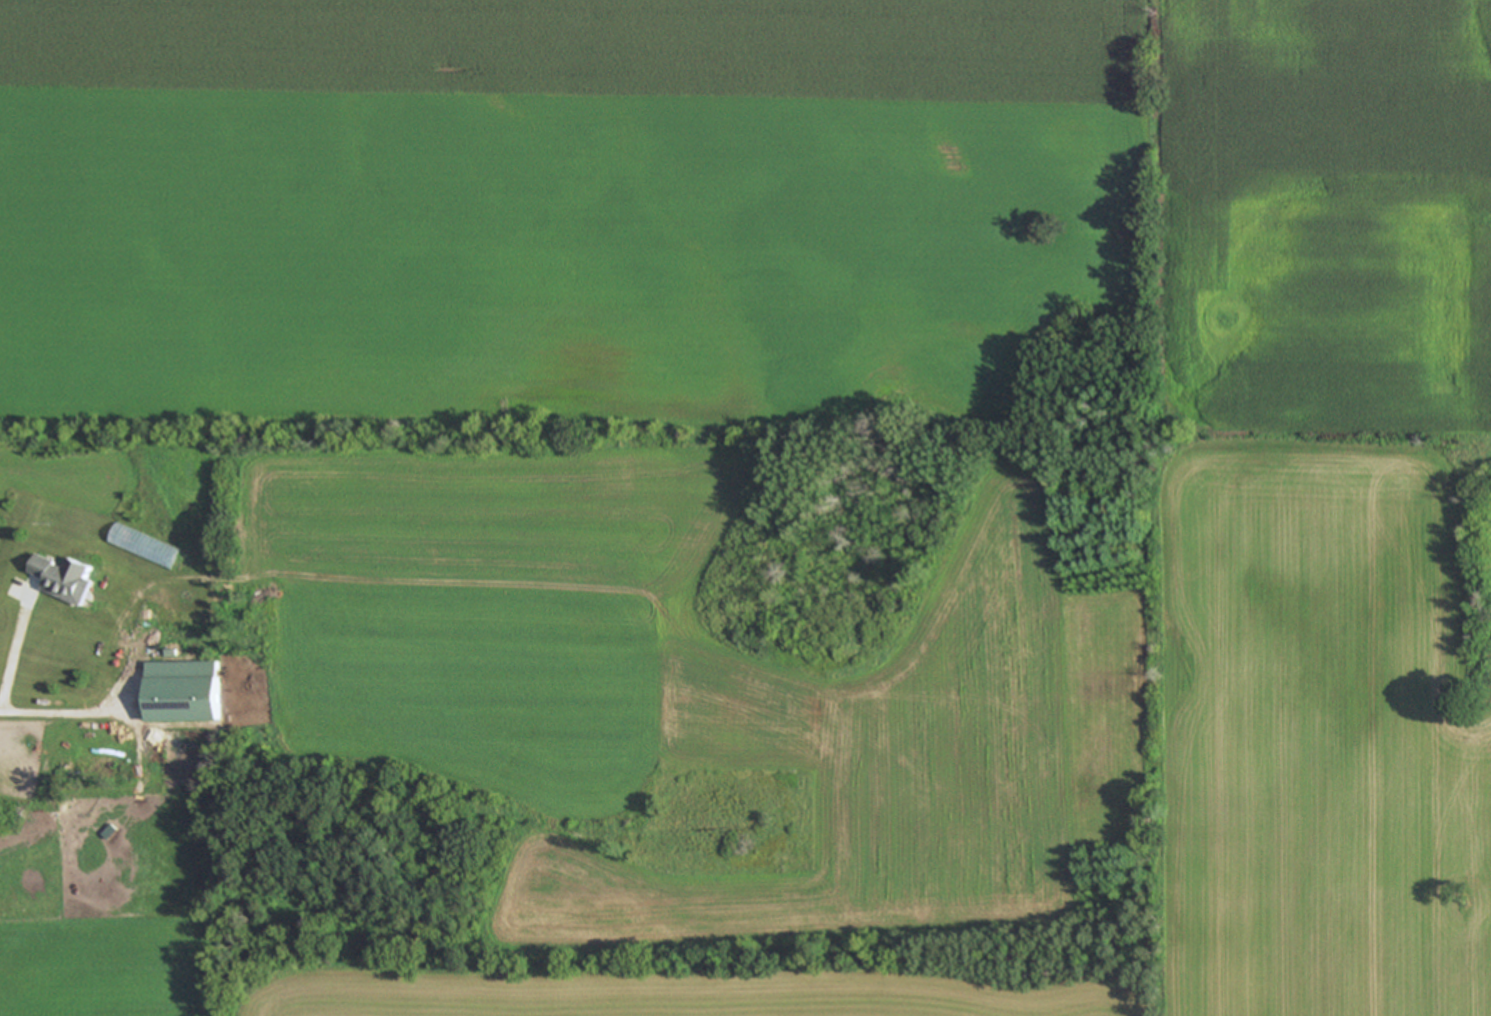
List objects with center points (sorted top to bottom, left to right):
building: (304, 536)
building: (146, 548)
building: (66, 581)
road: (14, 653)
building: (184, 694)
road: (56, 712)

